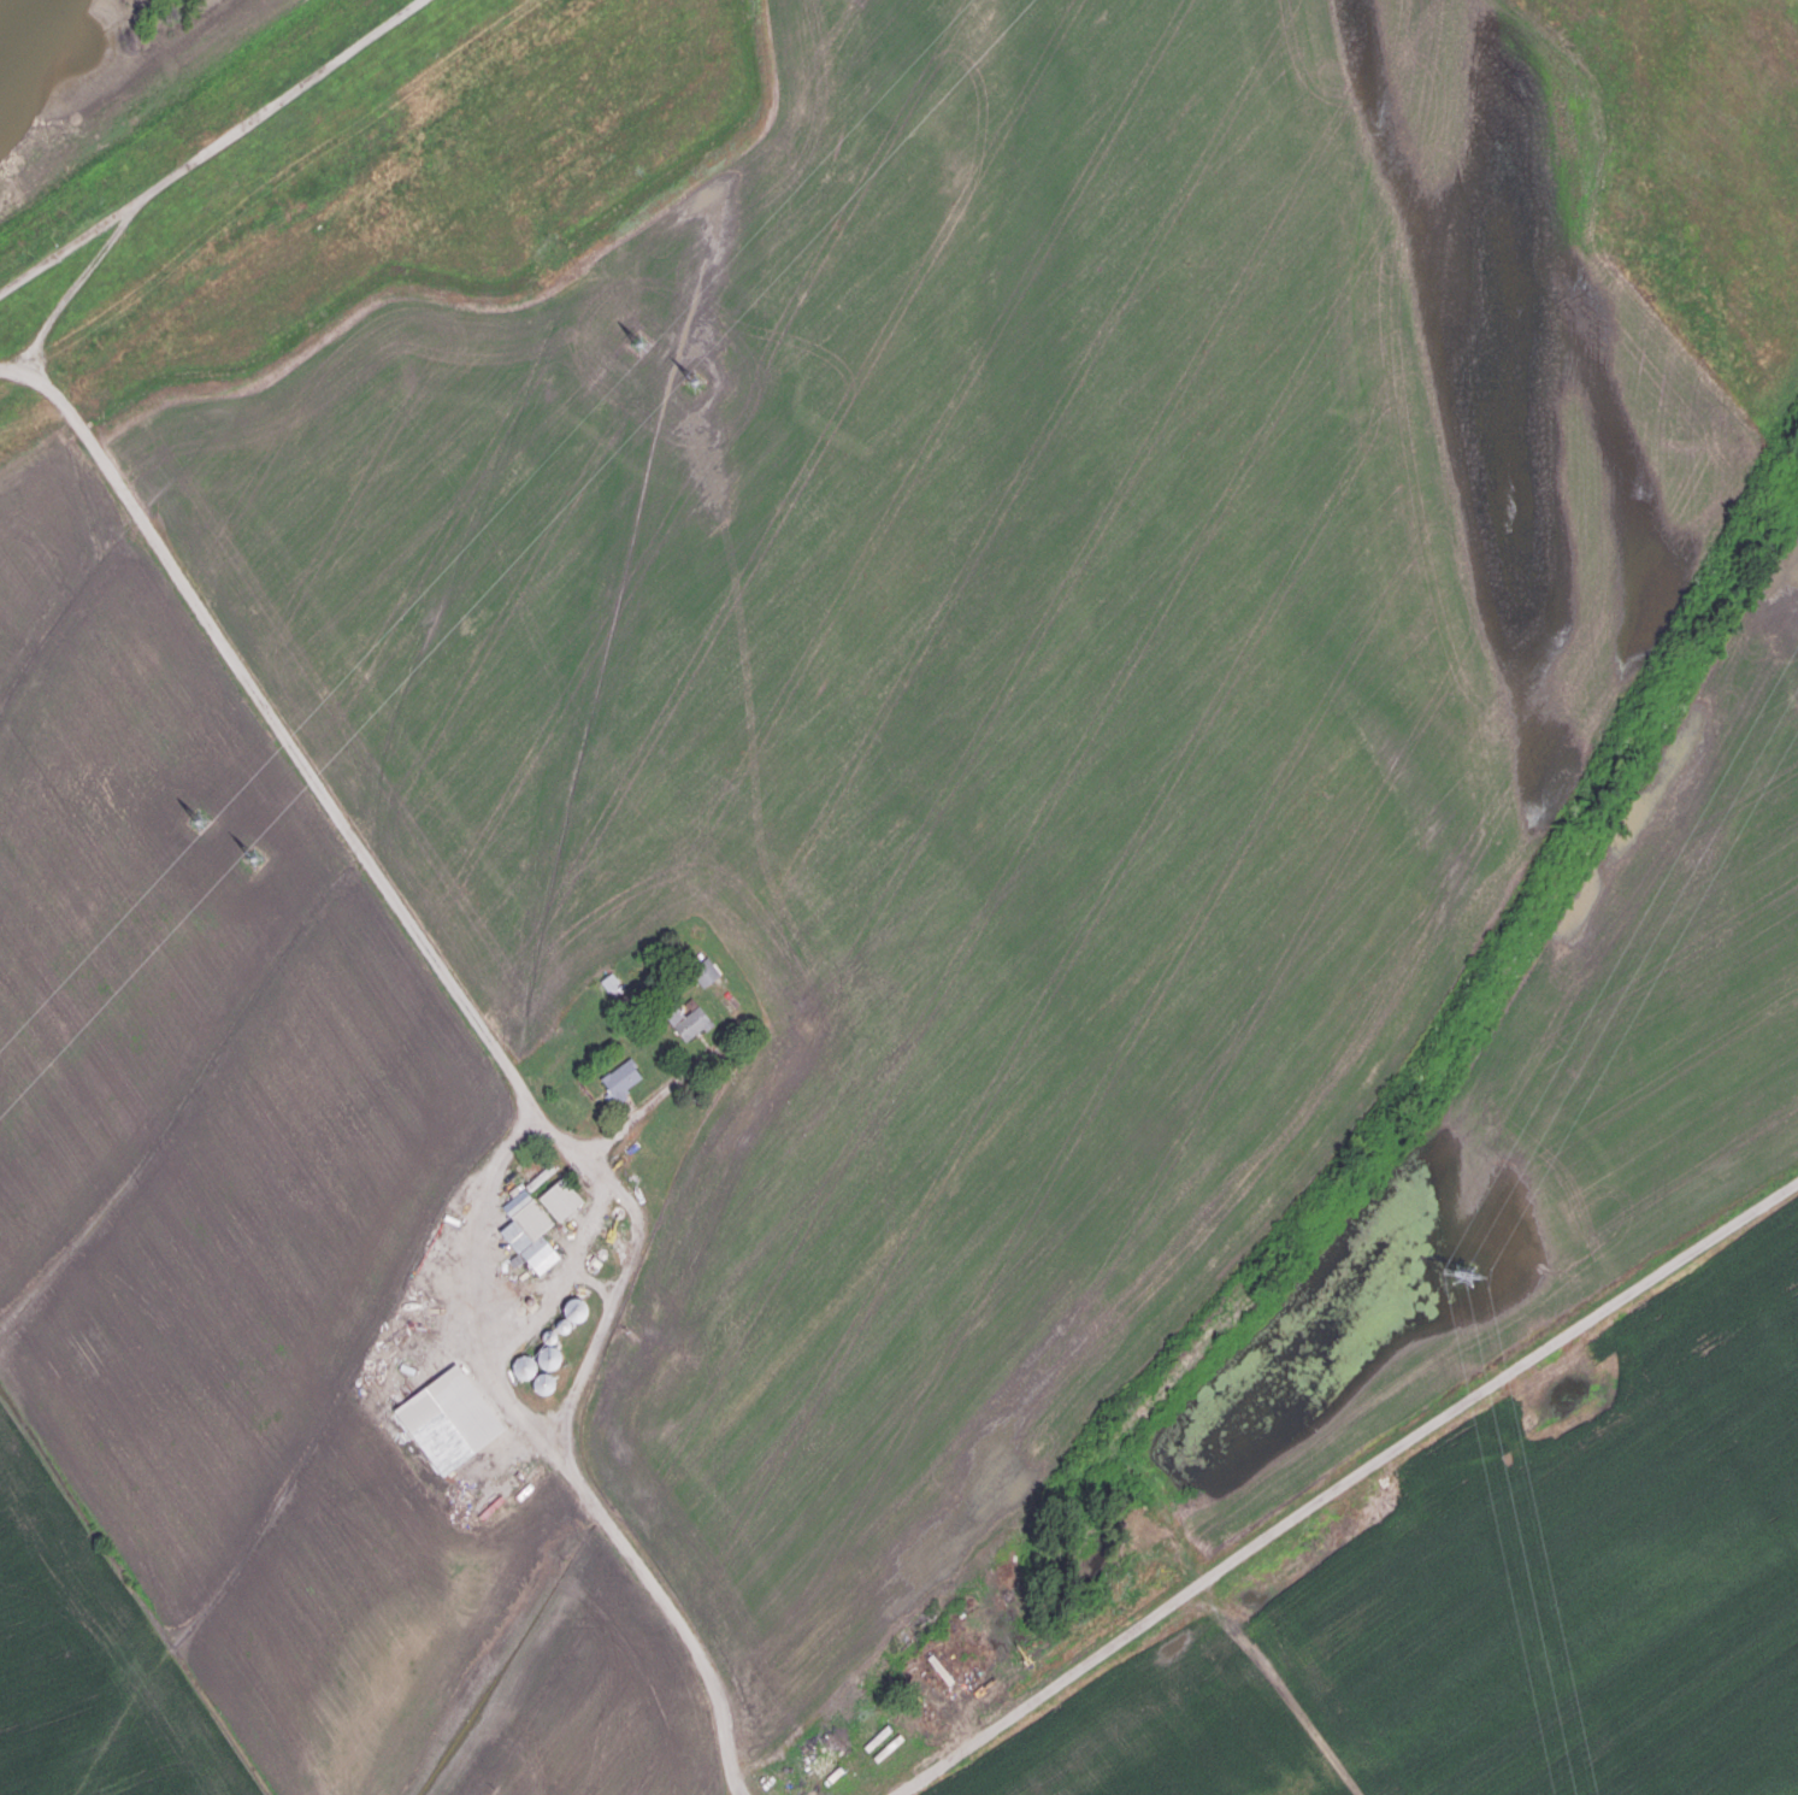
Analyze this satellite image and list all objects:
road: (187, 166)
road: (65, 251)
power tower: (641, 339)
power tower: (688, 384)
crop: (771, 802)
power tower: (199, 822)
power tower: (257, 857)
road: (505, 1065)
road: (661, 1094)
crop: (1570, 1106)
road: (570, 1265)
power tower: (1463, 1272)
road: (593, 1279)
road: (482, 1290)
road: (1337, 1485)
crop: (1508, 1595)
road: (1291, 1701)

